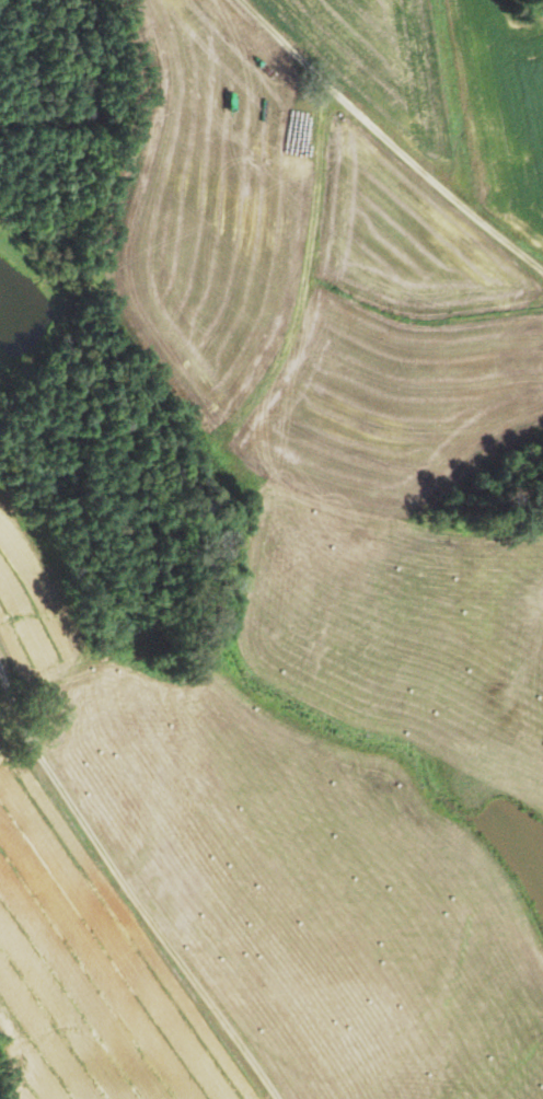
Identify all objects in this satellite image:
road: (388, 140)
road: (134, 884)

